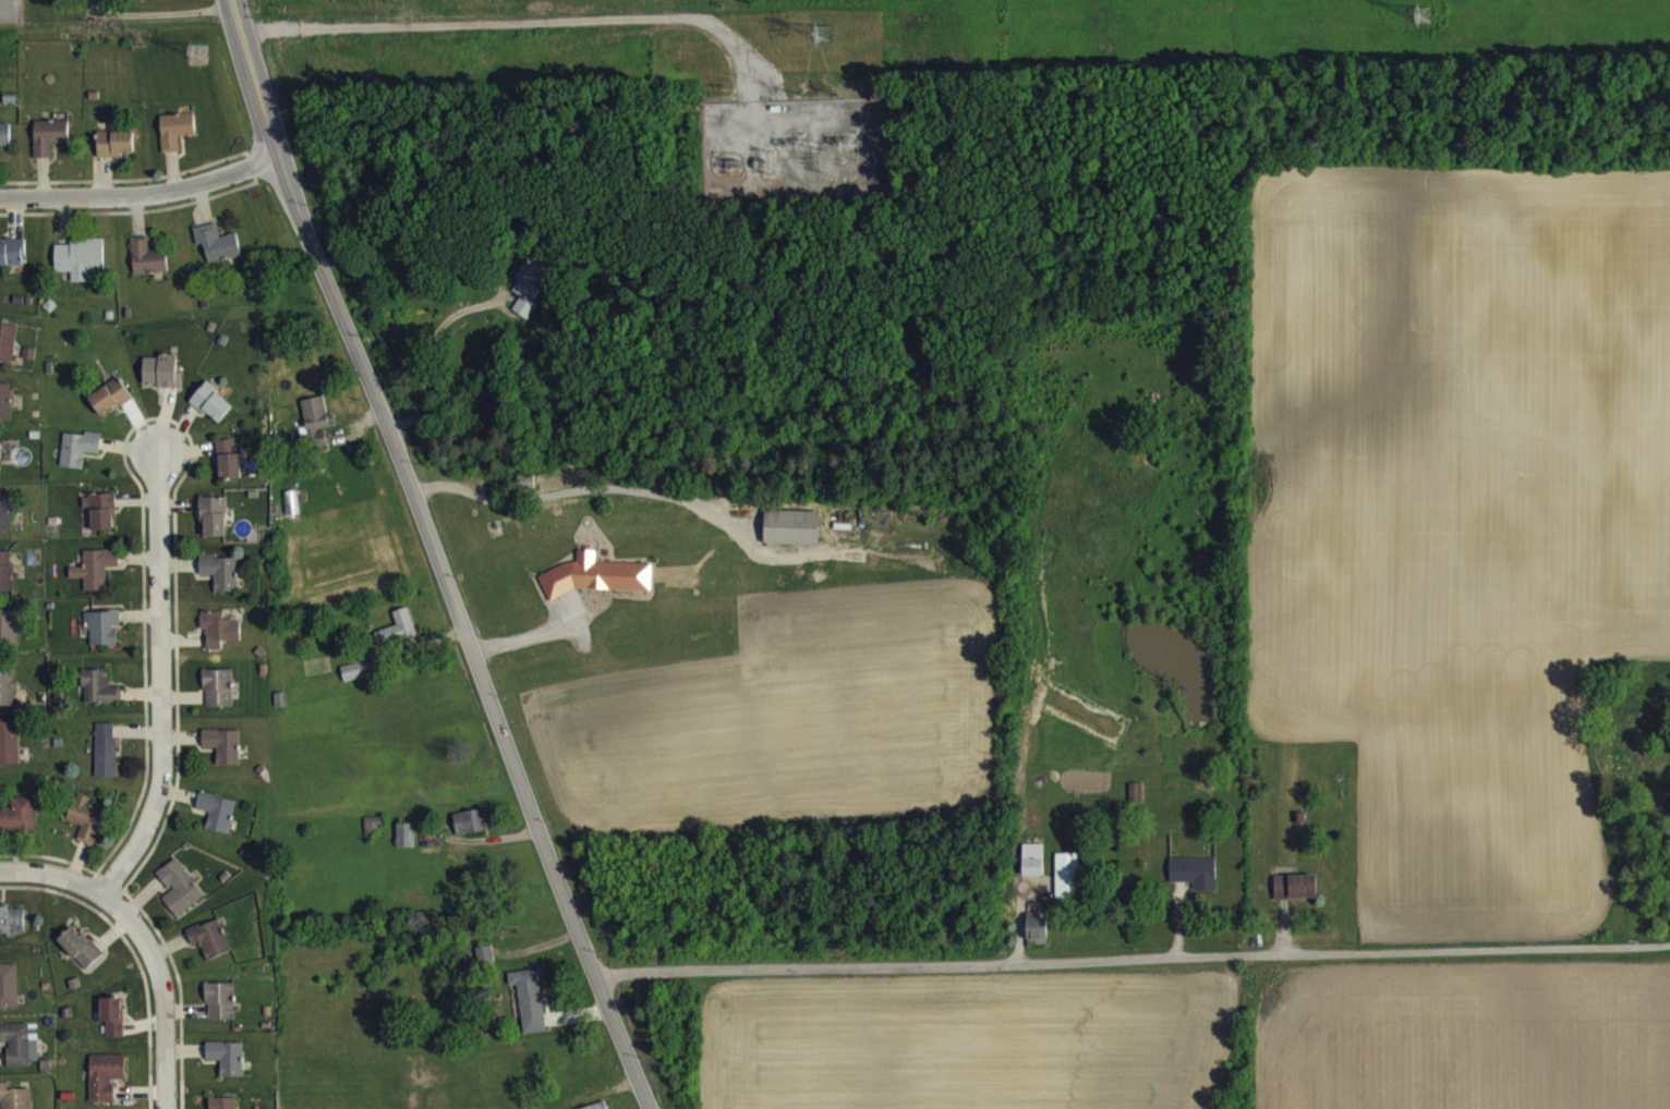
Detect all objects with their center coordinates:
building: (133, 3)
building: (100, 4)
road: (158, 12)
power tower: (1427, 21)
road: (524, 23)
power tower: (823, 34)
power tower: (201, 47)
building: (176, 142)
building: (4, 145)
building: (49, 148)
power substation: (797, 150)
building: (116, 155)
road: (141, 194)
building: (217, 254)
building: (12, 264)
building: (81, 269)
building: (147, 269)
building: (532, 294)
building: (8, 355)
building: (161, 382)
building: (110, 409)
building: (5, 413)
building: (211, 414)
building: (317, 425)
building: (78, 460)
building: (229, 472)
road: (571, 491)
building: (291, 514)
building: (104, 523)
building: (5, 524)
building: (214, 527)
building: (791, 539)
road: (435, 556)
building: (96, 580)
building: (7, 582)
building: (220, 583)
building: (596, 587)
building: (9, 638)
building: (104, 638)
building: (219, 641)
building: (398, 641)
road: (160, 678)
building: (359, 681)
building: (8, 698)
building: (99, 698)
building: (218, 699)
building: (9, 754)
building: (223, 756)
building: (106, 761)
building: (217, 824)
building: (85, 829)
building: (470, 833)
building: (372, 837)
building: (406, 846)
road: (52, 873)
building: (1033, 878)
building: (1195, 883)
building: (1067, 887)
building: (180, 899)
building: (1295, 899)
building: (12, 931)
building: (1037, 941)
building: (210, 950)
road: (1133, 959)
building: (81, 960)
road: (161, 989)
building: (530, 1011)
building: (220, 1012)
building: (113, 1027)
building: (21, 1053)
building: (227, 1069)
building: (106, 1085)
building: (13, 1102)
building: (217, 1108)

